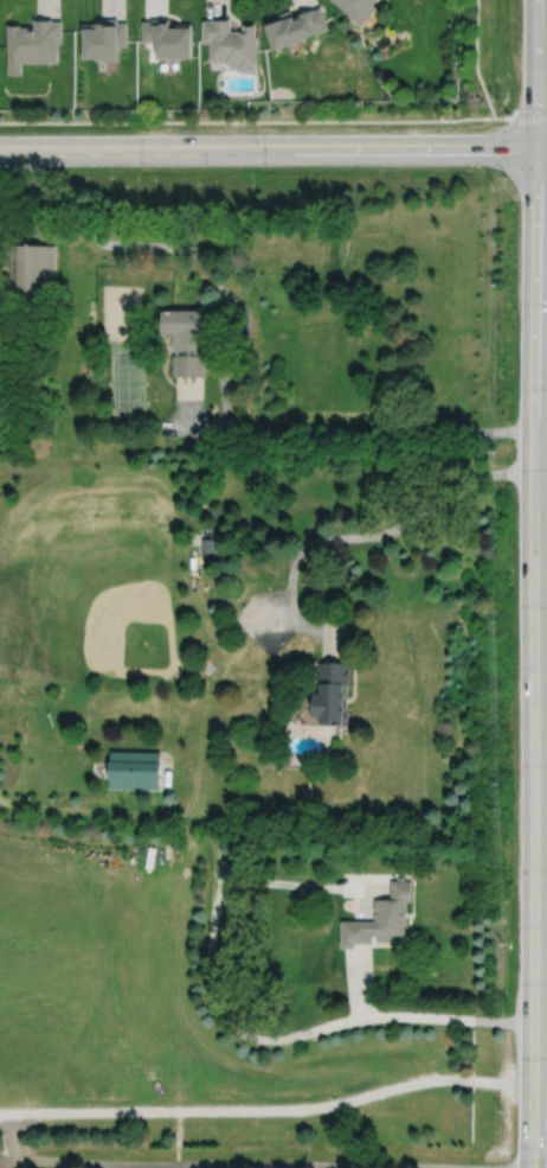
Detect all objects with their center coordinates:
building: (359, 7)
building: (296, 25)
building: (104, 37)
building: (168, 37)
building: (32, 42)
building: (231, 42)
road: (477, 59)
road: (536, 74)
street lamp: (509, 113)
road: (521, 116)
road: (247, 120)
road: (266, 148)
traffic signals: (535, 148)
road: (541, 148)
street lamp: (507, 175)
road: (21, 219)
road: (134, 242)
building: (32, 266)
road: (217, 318)
building: (186, 340)
park: (127, 379)
road: (191, 403)
road: (347, 429)
road: (359, 536)
building: (208, 548)
road: (326, 628)
road: (534, 657)
building: (332, 692)
building: (135, 768)
road: (298, 883)
building: (381, 917)
road: (251, 1033)
road: (268, 1109)
road: (239, 1163)
road: (174, 1166)
road: (323, 1167)

